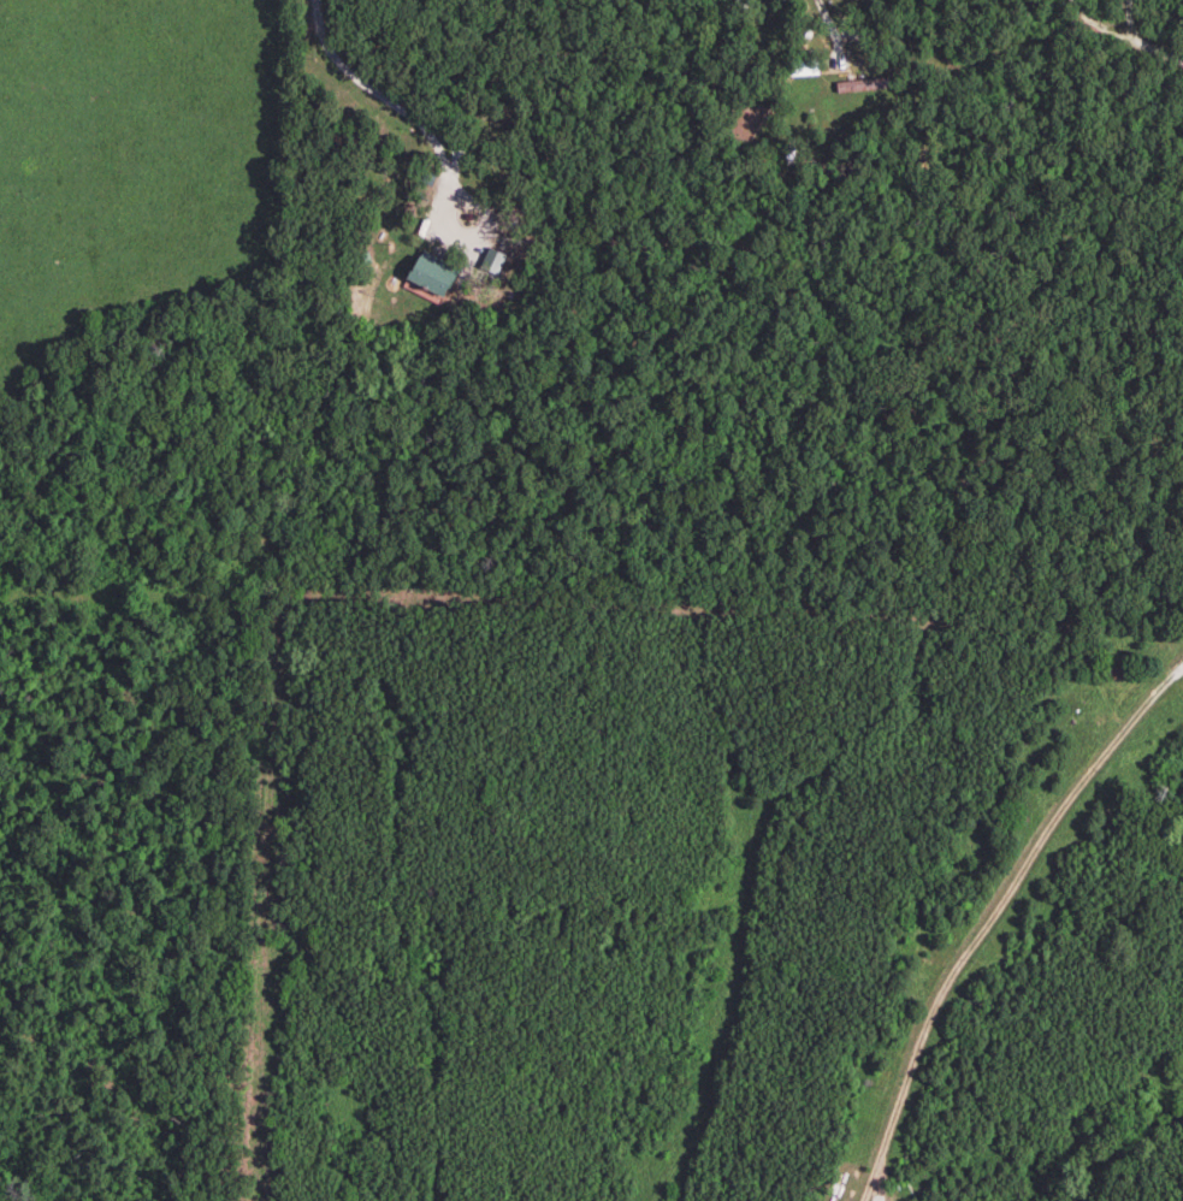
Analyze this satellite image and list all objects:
road: (841, 24)
road: (408, 114)
building: (425, 278)
road: (984, 918)

